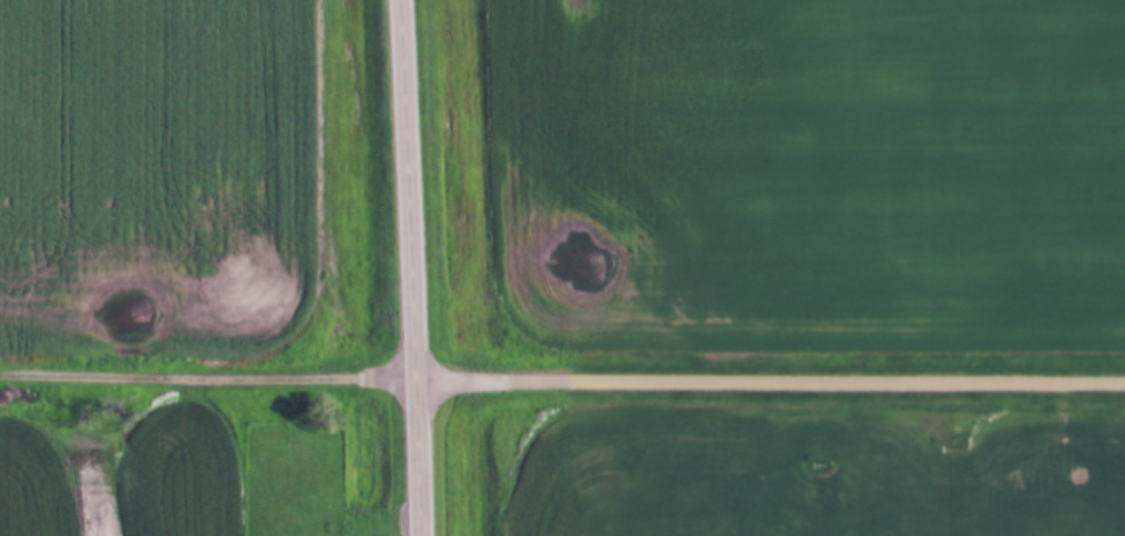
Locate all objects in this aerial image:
road: (410, 267)
road: (206, 378)
road: (769, 379)
park: (292, 480)

